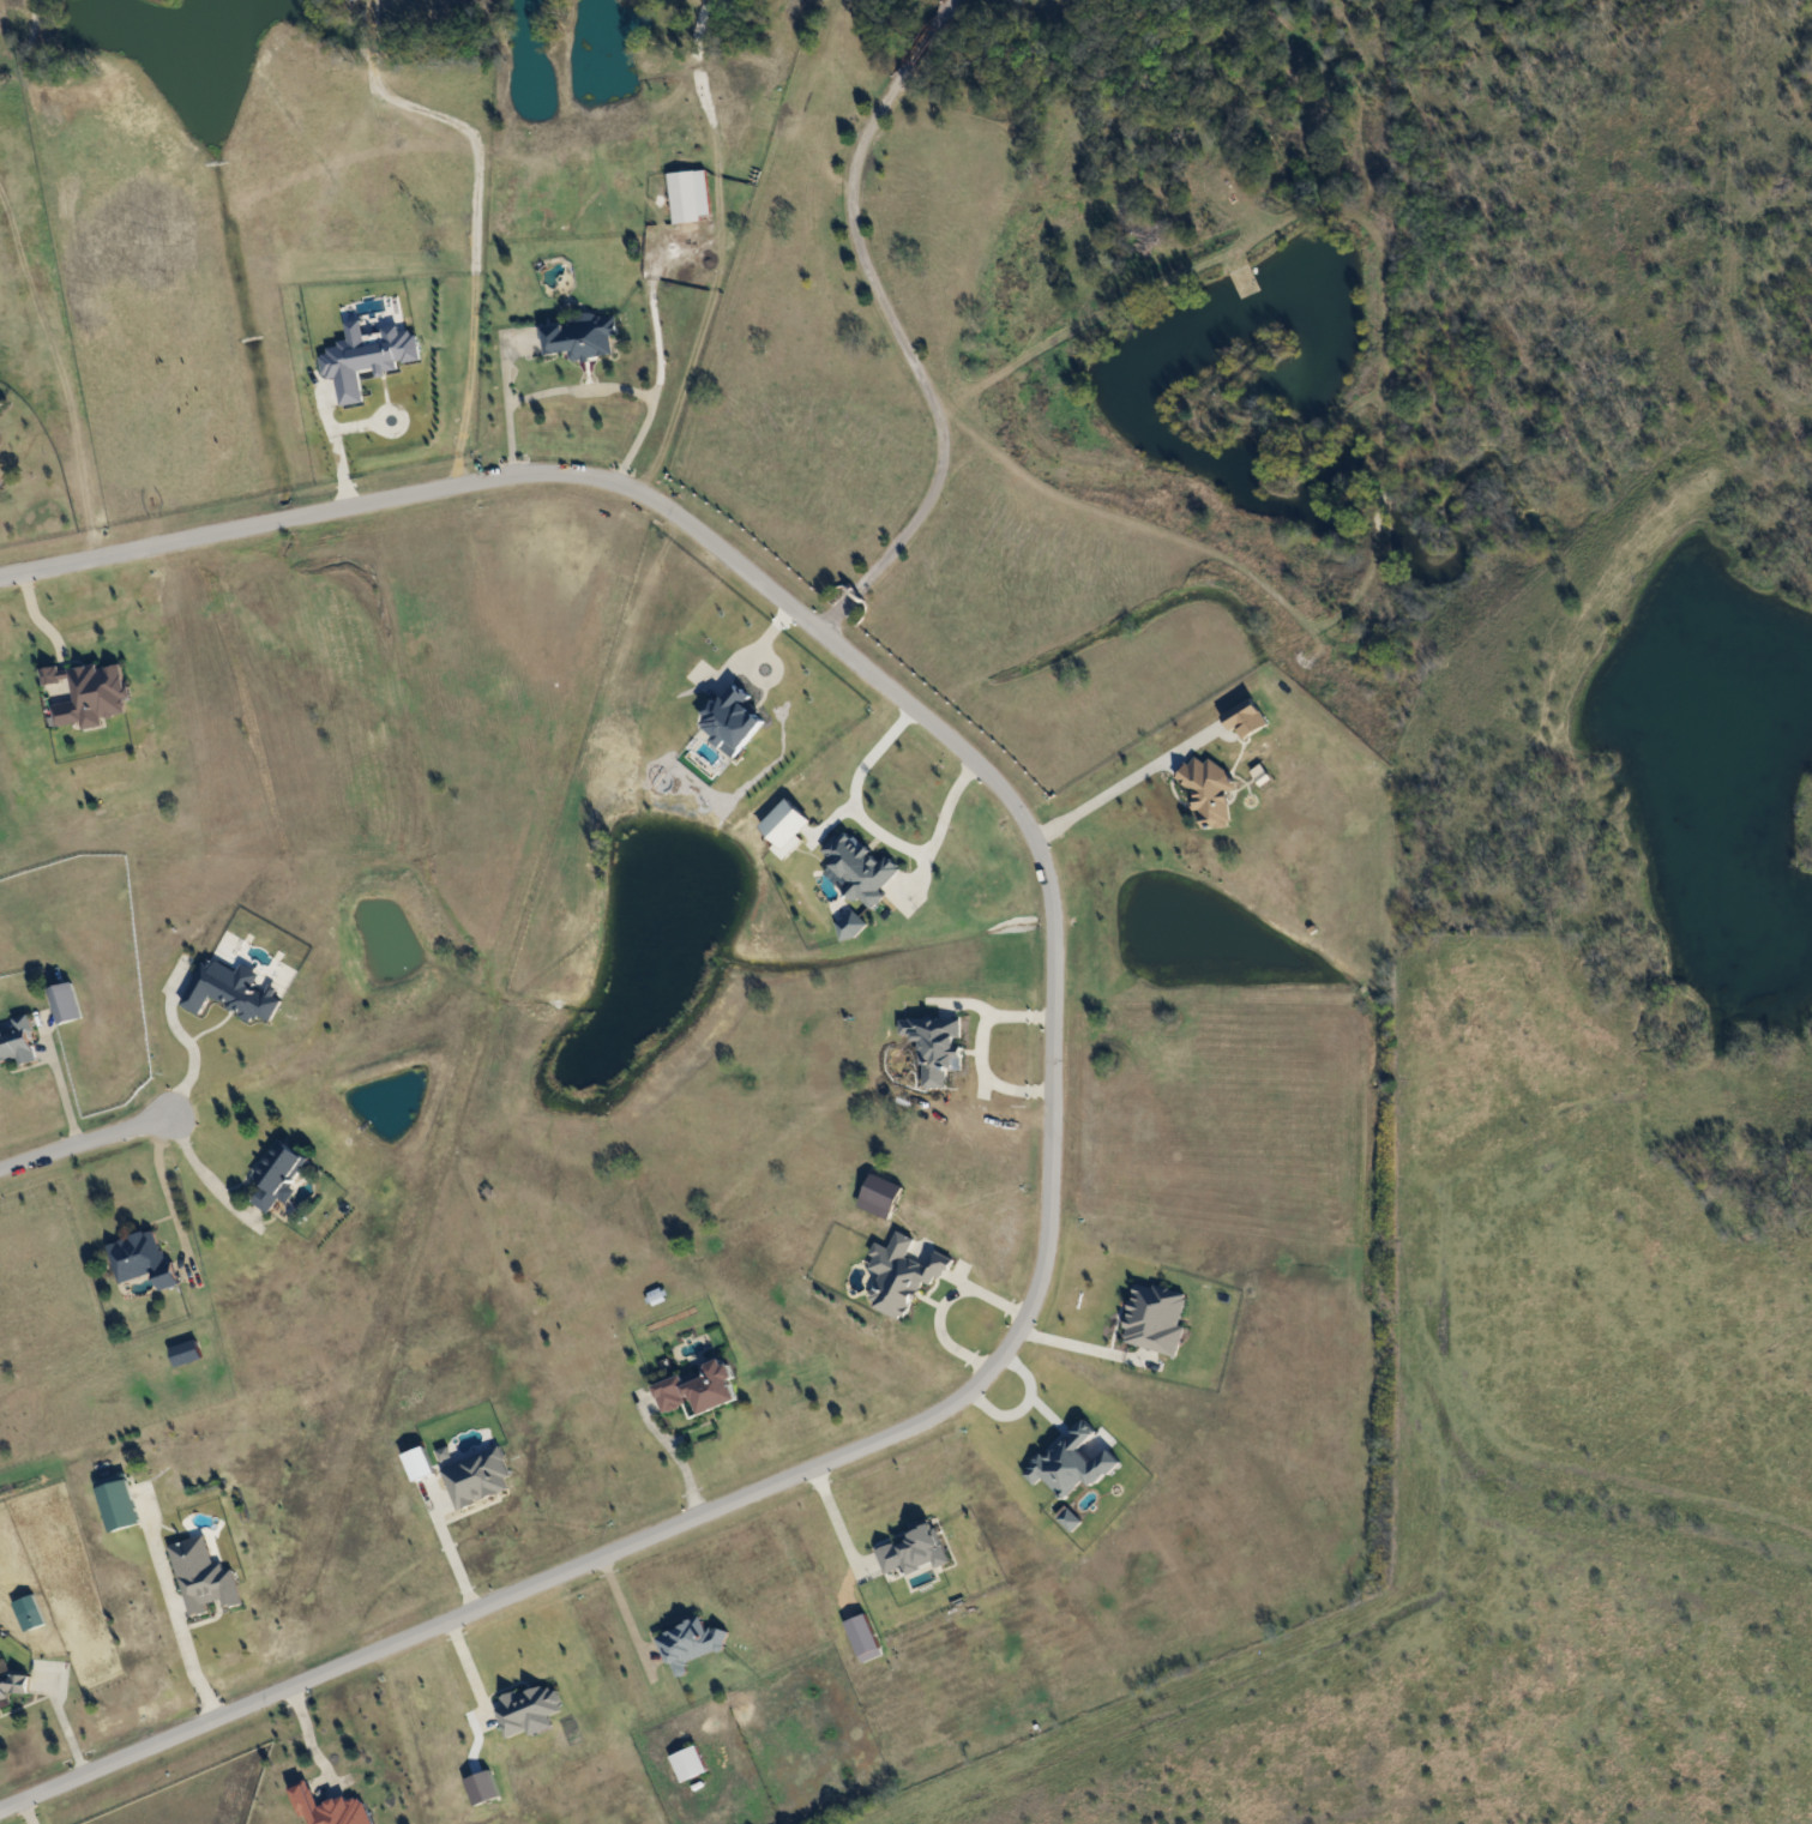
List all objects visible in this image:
building: (684, 195)
building: (1242, 279)
road: (891, 320)
building: (582, 337)
road: (579, 384)
road: (338, 438)
building: (90, 691)
building: (1247, 718)
building: (1212, 791)
road: (1110, 793)
road: (873, 831)
building: (231, 992)
building: (65, 1003)
building: (17, 1040)
road: (182, 1042)
road: (986, 1053)
road: (1054, 1057)
road: (61, 1083)
road: (83, 1139)
road: (195, 1170)
building: (276, 1173)
road: (161, 1190)
building: (140, 1257)
road: (937, 1301)
road: (1083, 1348)
building: (186, 1352)
building: (698, 1389)
road: (681, 1451)
building: (118, 1501)
road: (838, 1515)
road: (454, 1543)
building: (204, 1573)
road: (630, 1606)
building: (26, 1619)
road: (174, 1629)
building: (690, 1643)
building: (13, 1686)
building: (528, 1706)
road: (56, 1722)
road: (309, 1739)
building: (688, 1763)
building: (331, 1806)
road: (22, 1813)

